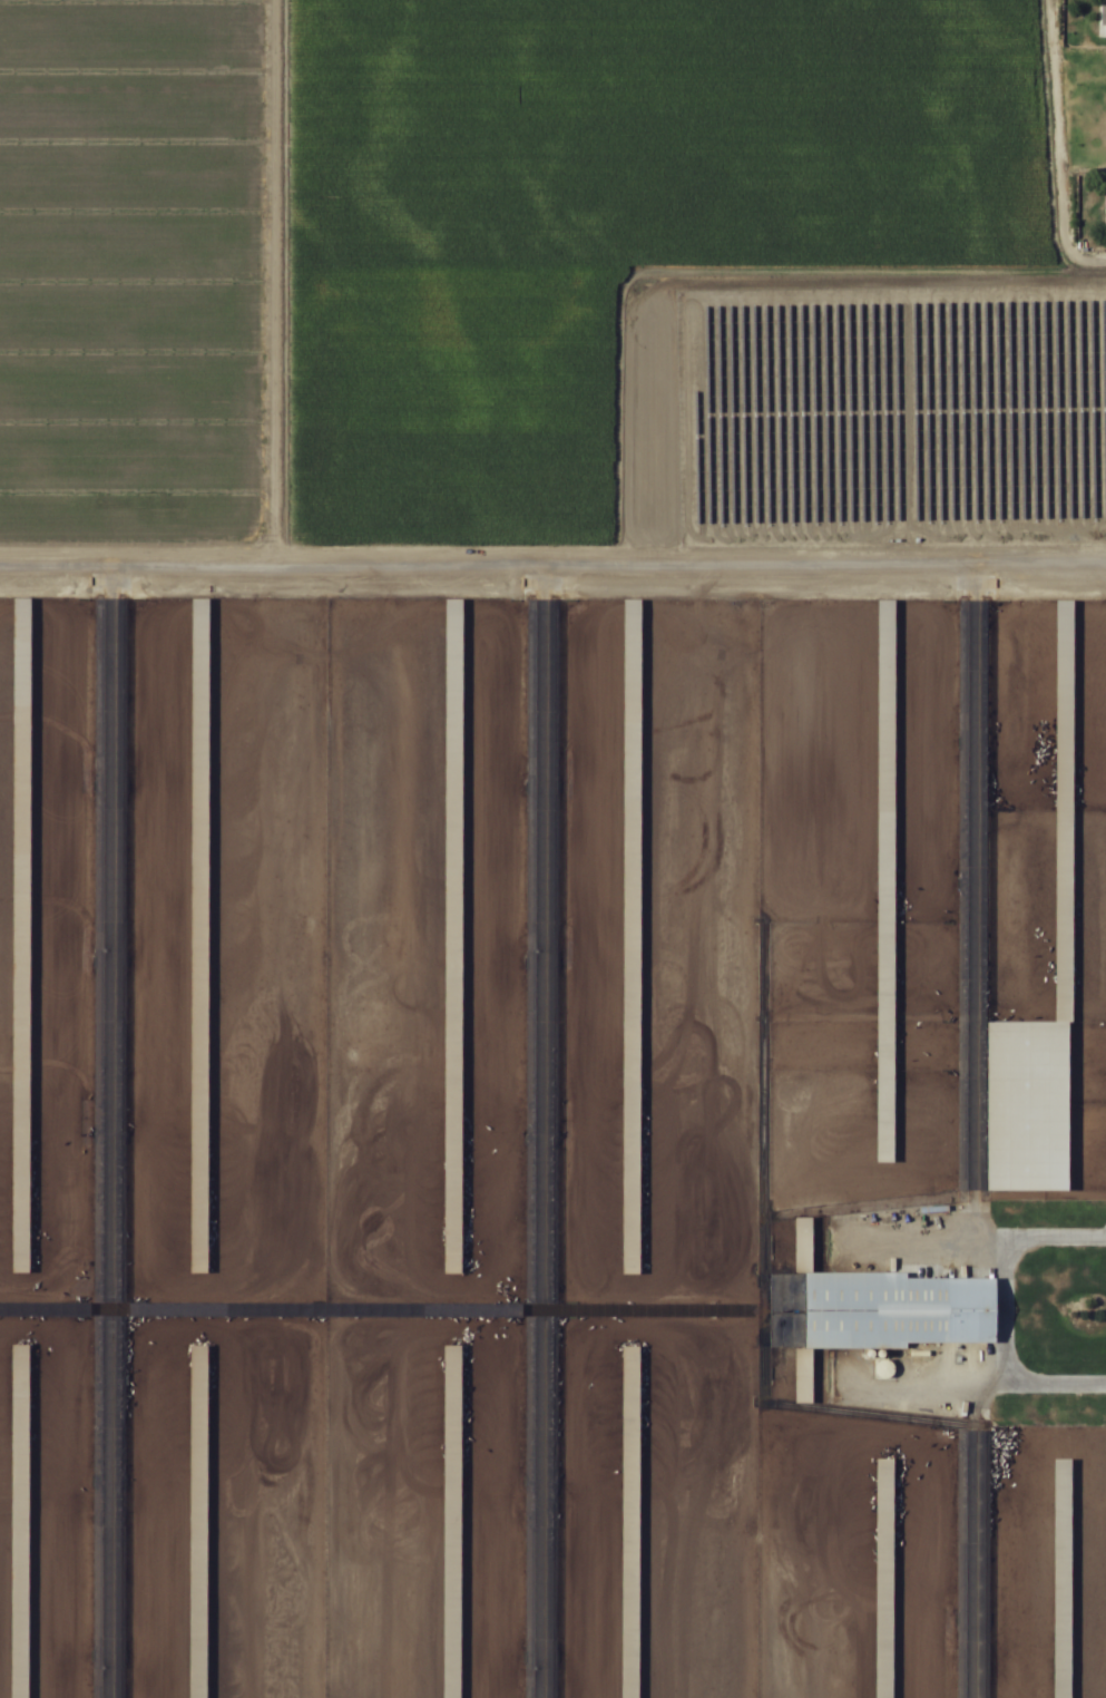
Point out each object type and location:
building: (1102, 12)
building: (1105, 209)
building: (20, 646)
building: (198, 646)
building: (1063, 812)
road: (256, 849)
building: (884, 882)
building: (452, 938)
building: (630, 938)
building: (198, 1170)
building: (20, 1224)
building: (882, 1309)
building: (19, 1522)
building: (197, 1522)
building: (451, 1522)
building: (629, 1523)
building: (883, 1579)
building: (1061, 1579)

